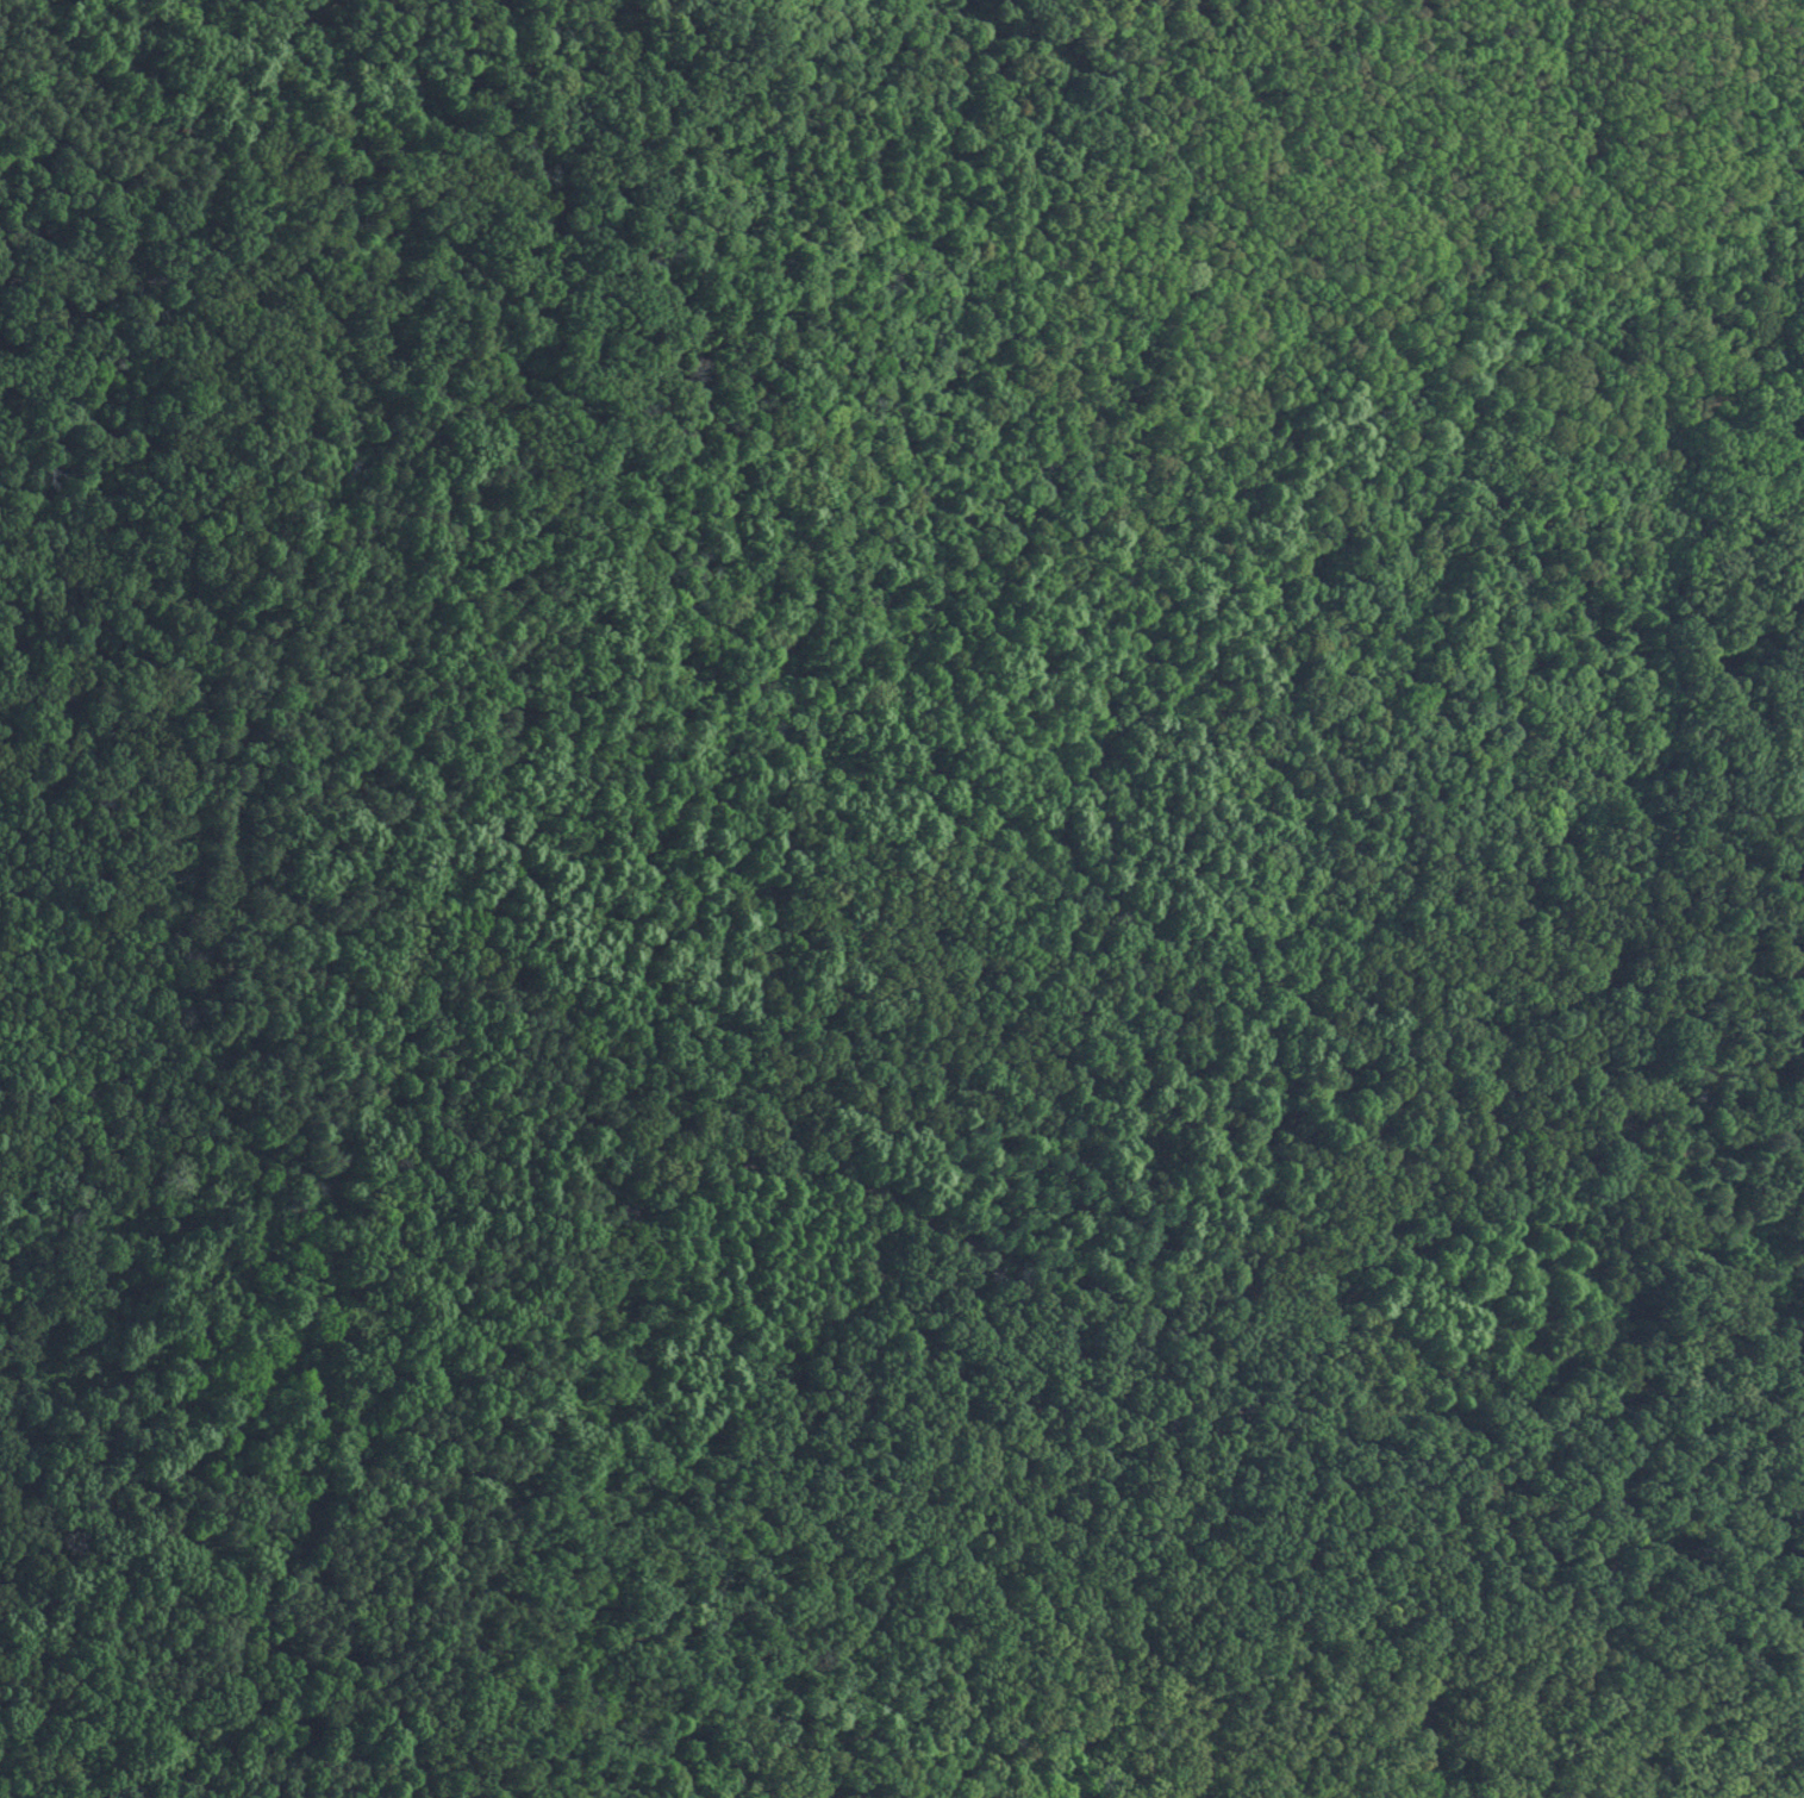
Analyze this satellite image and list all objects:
road: (233, 925)
road: (1066, 1286)

